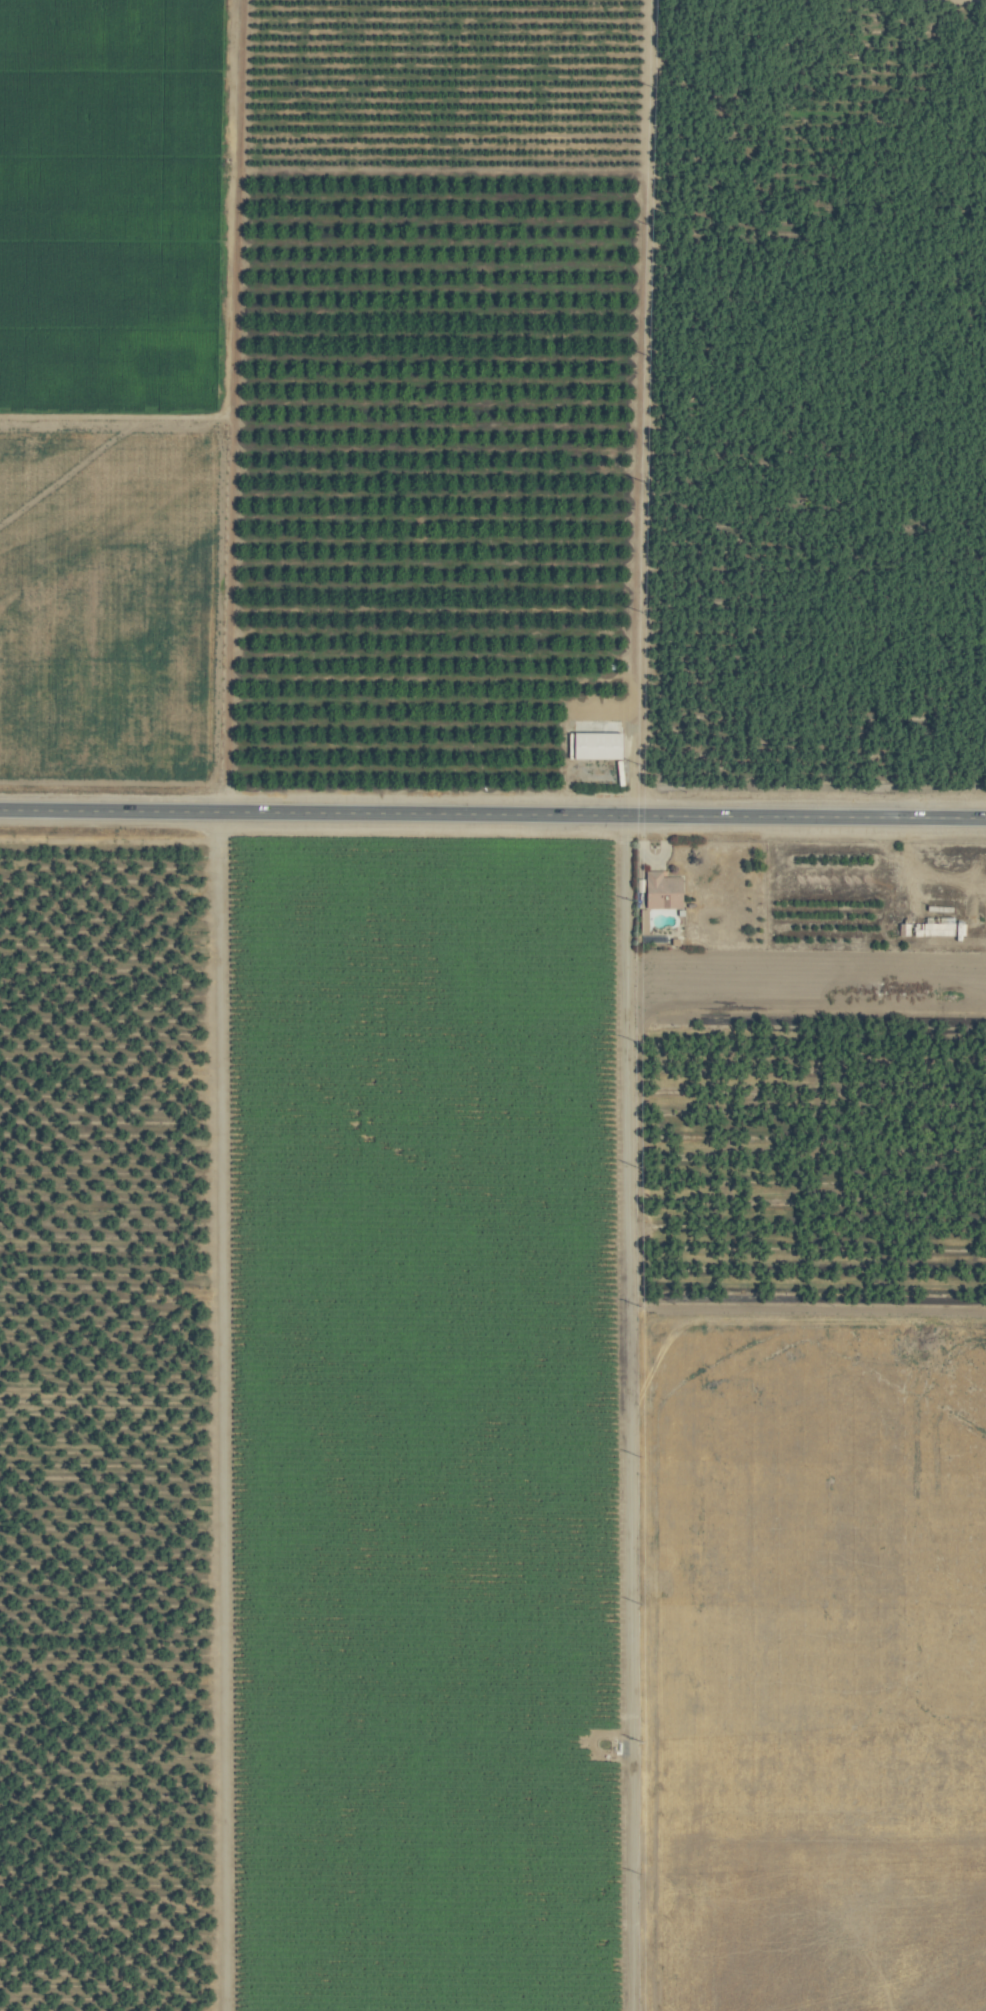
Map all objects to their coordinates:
building: (601, 747)
road: (492, 814)
building: (665, 891)
crop: (493, 1005)
road: (220, 1411)
road: (628, 1412)
crop: (810, 1924)

